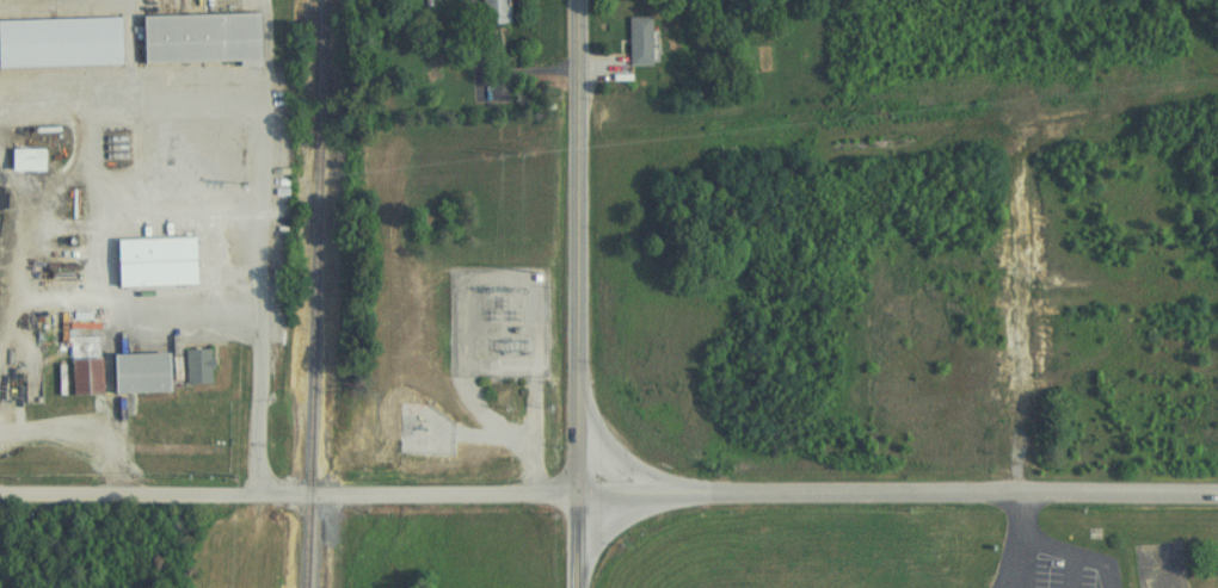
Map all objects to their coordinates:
building: (486, 11)
building: (190, 38)
building: (630, 41)
building: (56, 42)
road: (496, 81)
building: (17, 159)
road: (156, 165)
road: (127, 188)
road: (96, 193)
road: (574, 242)
building: (165, 246)
railway: (310, 293)
road: (198, 305)
building: (189, 366)
building: (78, 373)
building: (128, 373)
road: (1, 422)
road: (85, 427)
road: (288, 491)
road: (896, 500)
road: (576, 537)
road: (1026, 547)
road: (1016, 568)

